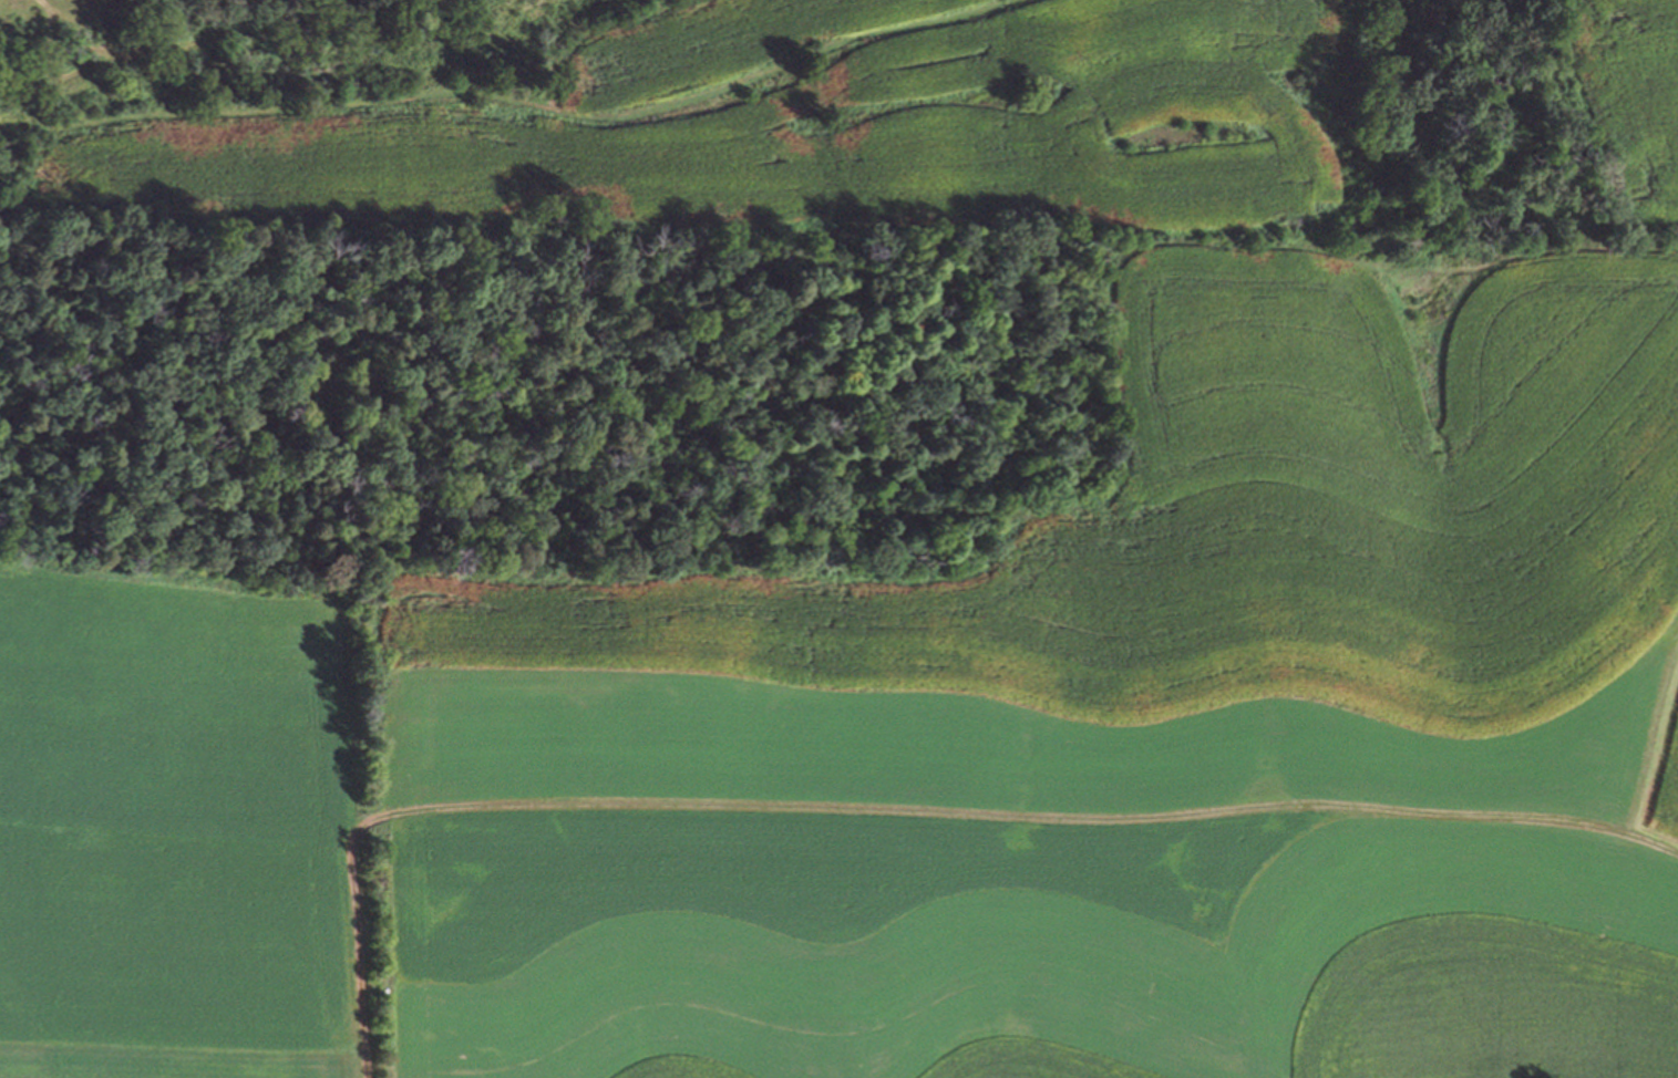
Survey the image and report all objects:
road: (358, 943)

